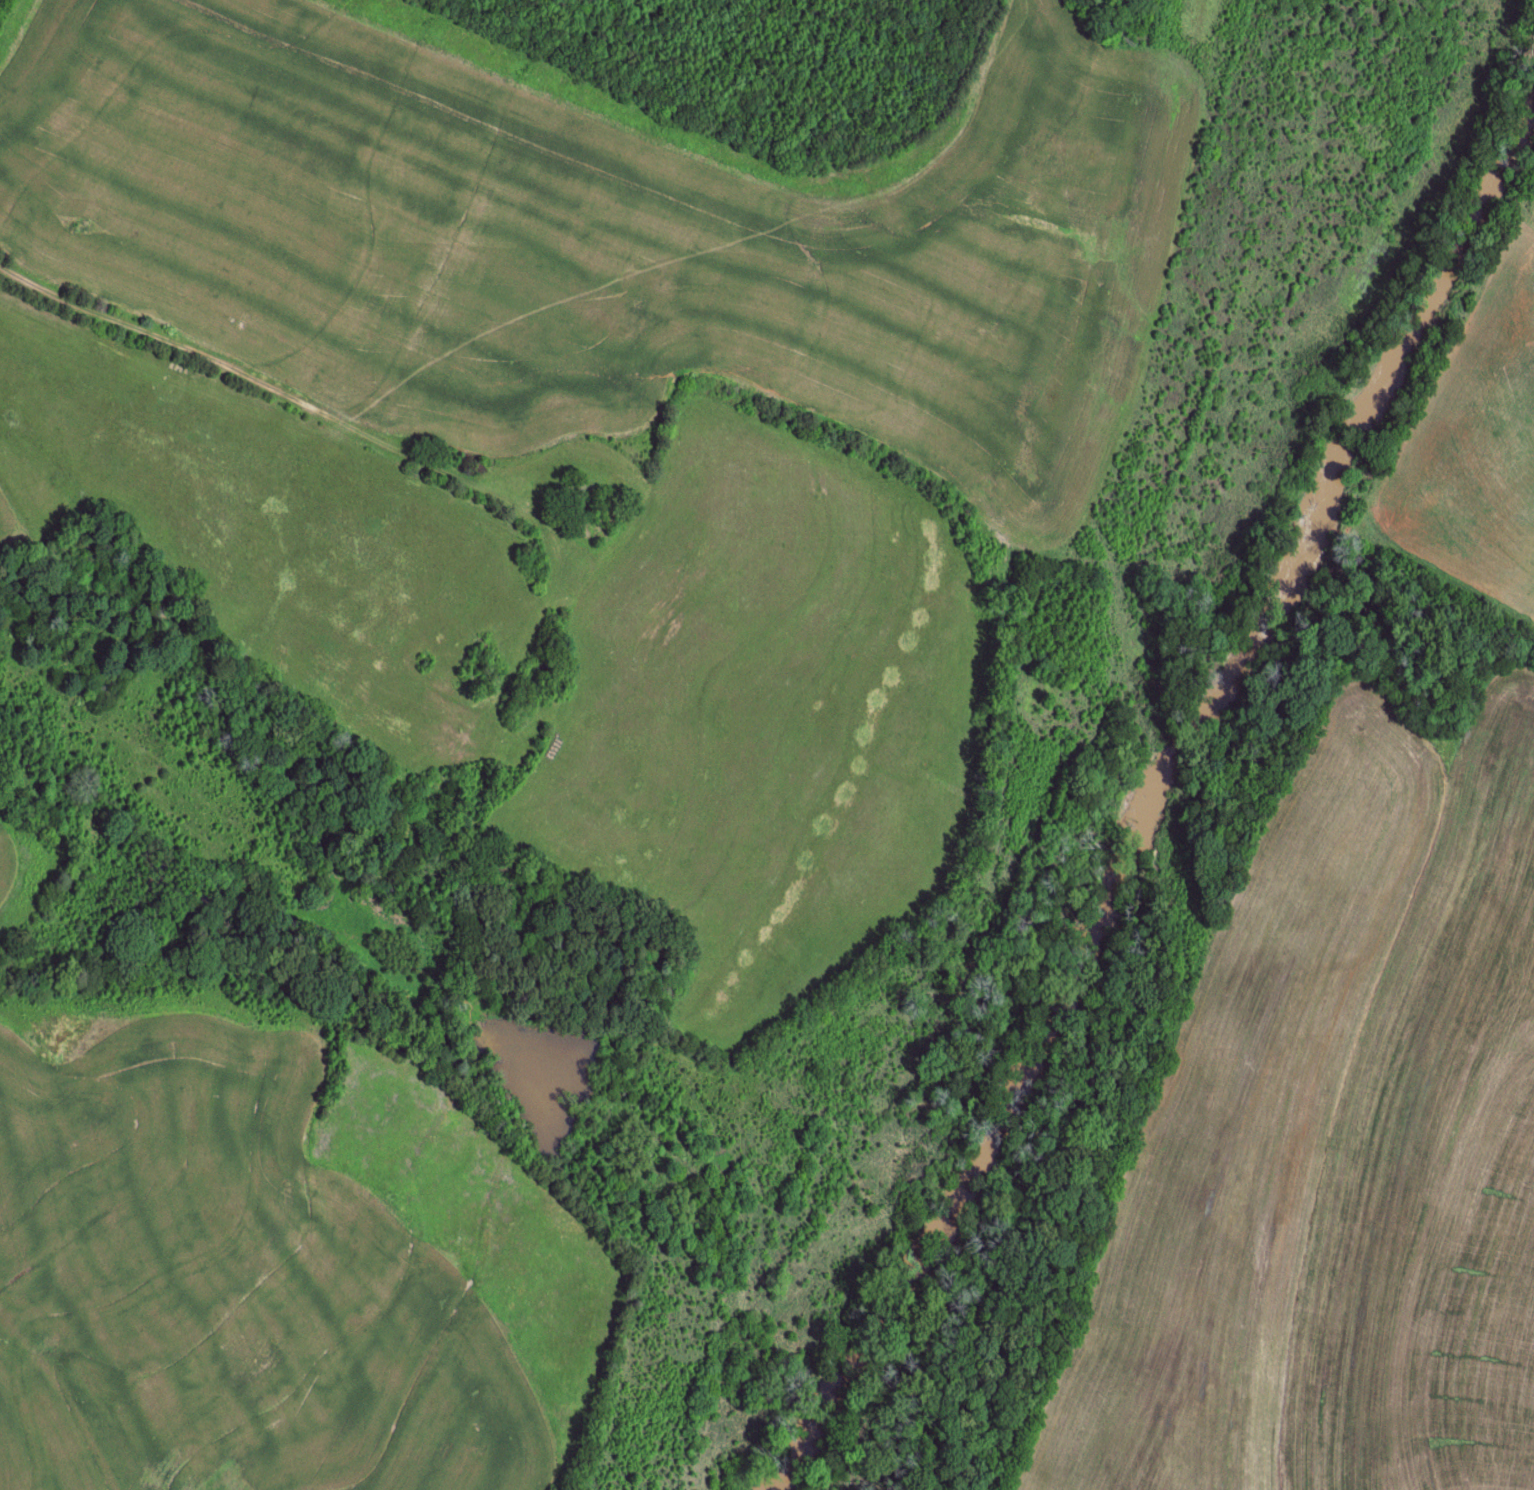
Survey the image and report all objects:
road: (384, 454)

